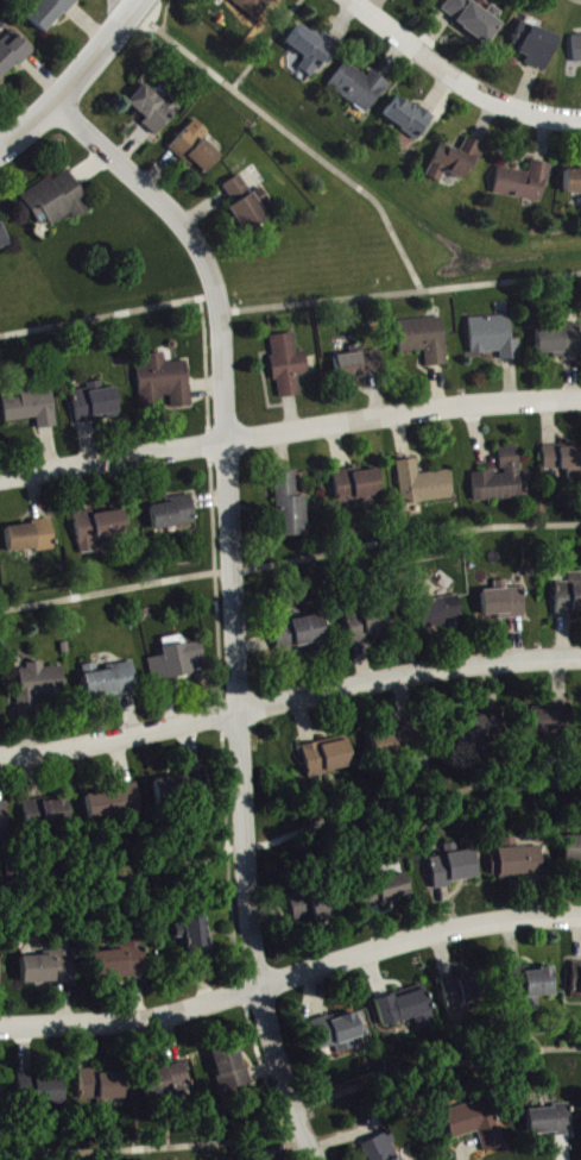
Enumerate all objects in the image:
building: (429, 0)
building: (254, 7)
building: (50, 13)
road: (164, 13)
building: (475, 19)
road: (265, 42)
building: (537, 46)
road: (94, 50)
building: (577, 50)
building: (312, 51)
building: (13, 56)
road: (457, 79)
building: (360, 88)
building: (154, 109)
building: (410, 120)
road: (27, 121)
road: (304, 140)
building: (198, 149)
building: (457, 163)
building: (574, 182)
building: (525, 184)
building: (57, 201)
building: (246, 207)
building: (4, 239)
road: (403, 293)
road: (110, 316)
building: (494, 339)
building: (425, 340)
building: (560, 343)
building: (361, 365)
building: (290, 366)
building: (165, 384)
building: (97, 405)
building: (34, 408)
road: (290, 431)
building: (563, 459)
building: (501, 481)
building: (424, 485)
building: (359, 487)
building: (292, 509)
building: (175, 515)
building: (100, 529)
building: (31, 538)
road: (289, 564)
building: (569, 597)
road: (230, 603)
building: (505, 603)
building: (438, 613)
building: (368, 625)
building: (298, 633)
building: (179, 663)
building: (110, 684)
building: (40, 688)
road: (289, 698)
building: (566, 719)
building: (538, 723)
building: (480, 729)
building: (392, 745)
building: (328, 758)
building: (182, 789)
road: (412, 803)
building: (118, 807)
building: (49, 815)
building: (4, 826)
building: (573, 852)
building: (518, 863)
building: (455, 867)
road: (122, 873)
building: (385, 893)
building: (320, 909)
building: (197, 939)
building: (121, 961)
building: (0, 967)
building: (51, 968)
road: (291, 979)
building: (576, 983)
building: (531, 985)
building: (462, 995)
building: (406, 1010)
building: (339, 1034)
building: (230, 1070)
building: (168, 1083)
building: (103, 1087)
building: (45, 1090)
building: (0, 1095)
road: (291, 1109)
building: (550, 1123)
building: (475, 1124)
building: (381, 1149)

